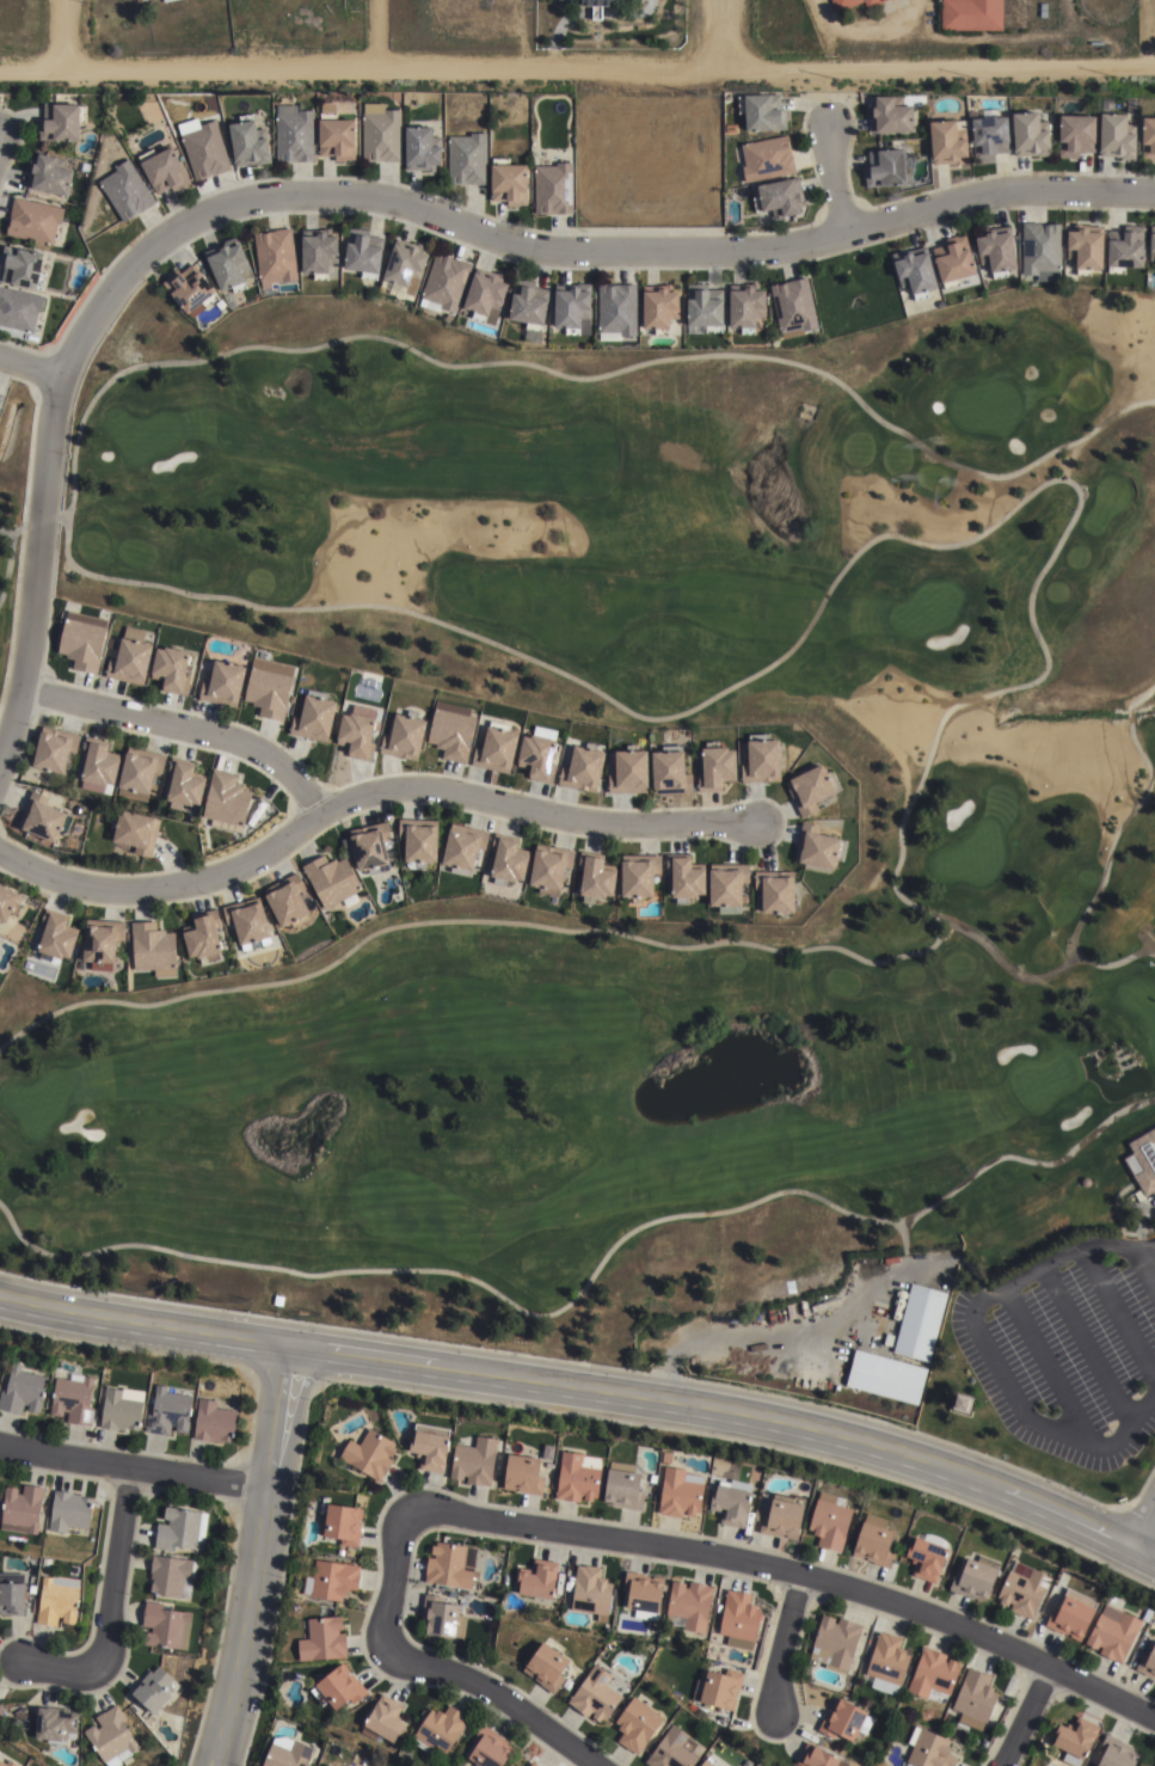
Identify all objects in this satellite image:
building: (139, 0)
building: (166, 0)
building: (852, 4)
building: (598, 5)
building: (971, 14)
road: (369, 30)
road: (60, 32)
road: (721, 32)
road: (577, 61)
building: (762, 110)
building: (887, 115)
building: (60, 121)
building: (336, 133)
building: (381, 133)
building: (989, 134)
building: (1030, 134)
building: (1076, 134)
building: (295, 135)
building: (1116, 135)
building: (1148, 137)
building: (247, 141)
building: (946, 141)
building: (422, 148)
building: (205, 151)
building: (767, 157)
building: (466, 158)
building: (884, 166)
building: (164, 168)
building: (48, 174)
road: (837, 178)
building: (508, 180)
building: (553, 189)
building: (125, 190)
building: (781, 196)
road: (380, 203)
building: (32, 220)
building: (1153, 245)
building: (1086, 247)
building: (1040, 250)
building: (1126, 250)
building: (995, 251)
building: (362, 252)
building: (319, 253)
building: (275, 257)
building: (952, 260)
building: (231, 266)
building: (405, 266)
building: (21, 268)
building: (915, 272)
building: (444, 281)
building: (190, 290)
building: (485, 295)
building: (528, 303)
building: (705, 306)
building: (747, 307)
building: (793, 307)
building: (18, 308)
building: (572, 309)
building: (659, 309)
building: (616, 311)
road: (31, 360)
building: (1, 399)
park: (17, 578)
building: (82, 640)
building: (129, 663)
building: (171, 670)
building: (223, 685)
building: (270, 687)
building: (314, 718)
road: (183, 730)
building: (451, 731)
building: (357, 737)
building: (403, 738)
building: (54, 750)
building: (494, 750)
building: (537, 759)
building: (762, 760)
building: (99, 764)
building: (715, 768)
building: (140, 771)
building: (582, 772)
building: (628, 772)
building: (670, 773)
building: (184, 784)
building: (812, 790)
building: (226, 799)
road: (369, 799)
building: (42, 821)
building: (136, 833)
building: (420, 841)
building: (371, 847)
building: (462, 848)
park: (1003, 848)
building: (819, 850)
building: (506, 861)
building: (549, 871)
building: (638, 877)
building: (596, 878)
building: (686, 878)
building: (332, 882)
building: (727, 887)
building: (776, 893)
building: (287, 901)
building: (8, 906)
building: (247, 924)
building: (202, 934)
building: (56, 937)
building: (100, 945)
building: (152, 949)
building: (0, 951)
building: (1142, 1163)
road: (1108, 1245)
road: (1145, 1247)
road: (1059, 1257)
road: (1145, 1267)
road: (1022, 1277)
road: (989, 1298)
road: (1118, 1316)
building: (919, 1320)
building: (887, 1339)
road: (1086, 1344)
parking lot: (1070, 1345)
road: (1048, 1366)
building: (884, 1375)
road: (588, 1386)
building: (21, 1388)
road: (1012, 1394)
building: (73, 1397)
building: (121, 1408)
building: (167, 1410)
building: (214, 1419)
road: (1126, 1427)
building: (429, 1445)
building: (368, 1452)
building: (474, 1459)
road: (134, 1468)
building: (522, 1472)
building: (577, 1474)
building: (622, 1486)
building: (680, 1490)
building: (731, 1501)
building: (20, 1507)
building: (68, 1509)
building: (781, 1517)
building: (829, 1519)
building: (342, 1521)
road: (1143, 1526)
building: (180, 1527)
building: (872, 1543)
road: (259, 1553)
building: (924, 1557)
building: (448, 1564)
road: (792, 1571)
building: (170, 1575)
building: (975, 1576)
building: (330, 1578)
building: (537, 1578)
building: (1022, 1588)
building: (590, 1589)
building: (11, 1593)
building: (643, 1594)
building: (57, 1599)
road: (112, 1601)
building: (688, 1603)
building: (441, 1615)
building: (1070, 1617)
building: (738, 1618)
building: (165, 1625)
building: (655, 1631)
building: (1113, 1632)
building: (321, 1638)
building: (834, 1642)
road: (782, 1644)
building: (612, 1645)
building: (713, 1648)
building: (886, 1662)
building: (1147, 1663)
building: (545, 1666)
road: (438, 1669)
building: (932, 1674)
building: (567, 1684)
building: (154, 1687)
building: (336, 1687)
building: (719, 1687)
building: (594, 1694)
building: (973, 1698)
building: (1, 1707)
road: (1026, 1716)
building: (382, 1718)
building: (843, 1719)
building: (54, 1723)
building: (637, 1724)
building: (438, 1729)
building: (110, 1735)
building: (1075, 1740)
building: (675, 1749)
building: (929, 1749)
building: (489, 1750)
building: (287, 1752)
building: (0, 1753)
building: (1117, 1755)
building: (817, 1756)
building: (708, 1761)
building: (7, 1762)
building: (530, 1764)
building: (1144, 1764)
building: (328, 1765)
building: (512, 1765)
building: (537, 1765)
building: (1154, 1765)

